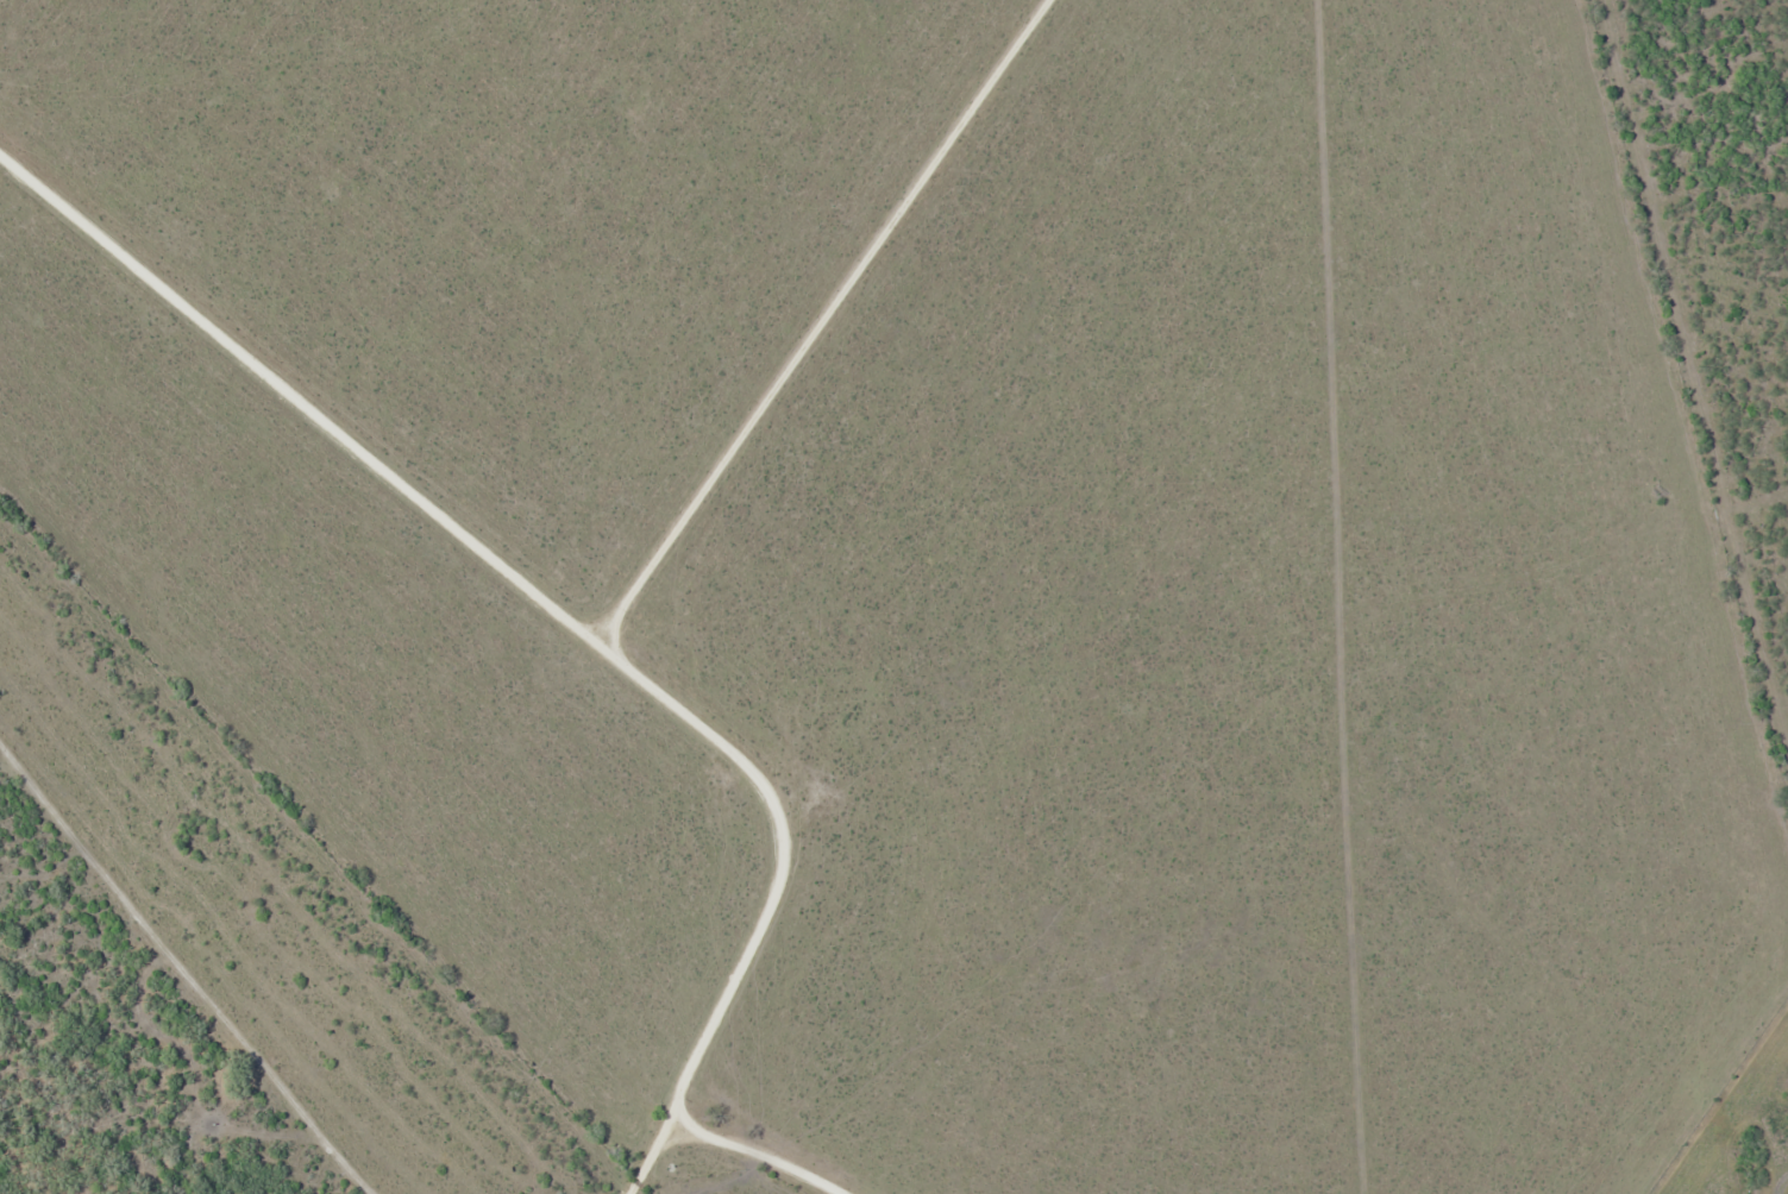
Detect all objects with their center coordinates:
road: (591, 642)
road: (180, 975)
road: (653, 1151)

